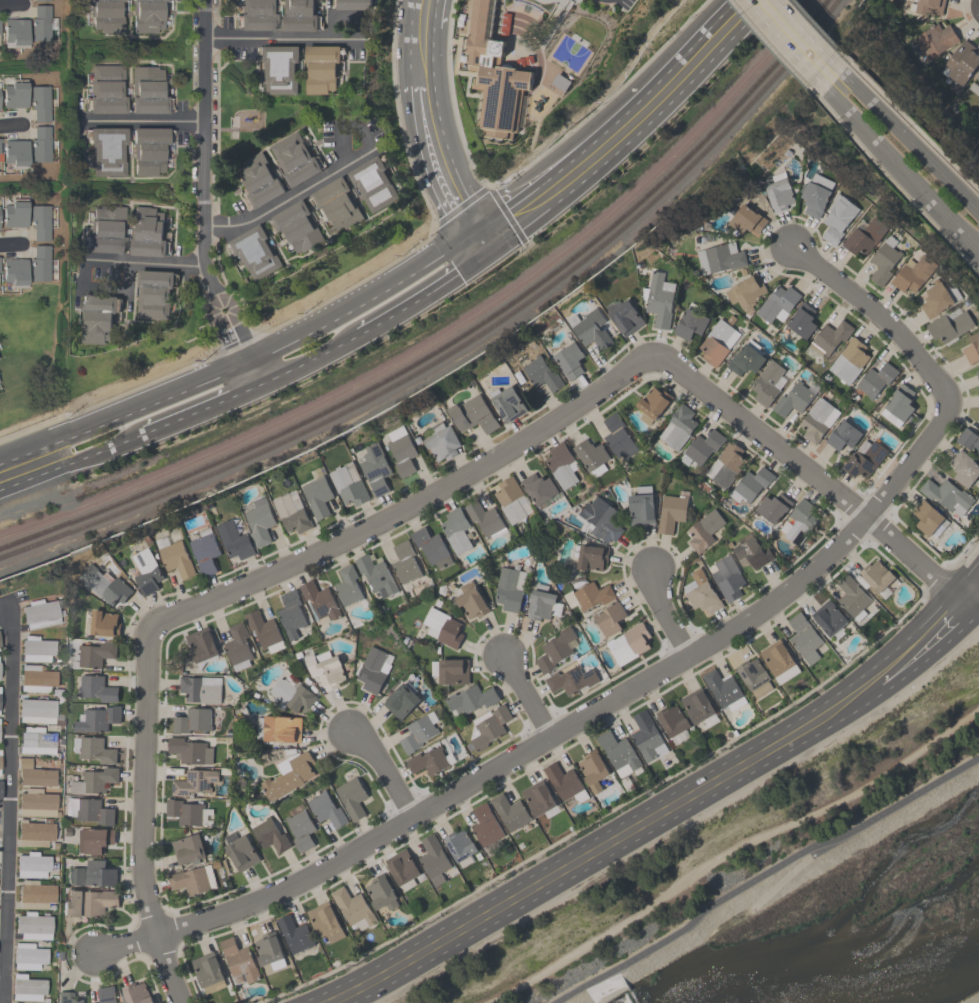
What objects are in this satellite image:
building: (41, 0)
road: (729, 2)
road: (10, 4)
building: (354, 4)
building: (924, 6)
road: (426, 11)
road: (752, 11)
building: (106, 15)
building: (146, 15)
building: (257, 15)
building: (298, 15)
building: (39, 23)
building: (514, 26)
building: (15, 32)
road: (318, 37)
road: (793, 37)
building: (934, 39)
road: (773, 48)
road: (424, 53)
building: (961, 64)
building: (281, 69)
building: (978, 69)
building: (322, 70)
building: (494, 71)
building: (977, 76)
building: (107, 90)
building: (148, 91)
building: (15, 94)
building: (39, 103)
road: (142, 120)
road: (10, 124)
road: (610, 125)
road: (637, 131)
road: (203, 132)
road: (907, 138)
building: (40, 144)
building: (148, 150)
building: (107, 151)
building: (14, 154)
road: (445, 156)
building: (294, 159)
road: (898, 166)
road: (326, 173)
building: (259, 178)
building: (374, 183)
road: (897, 186)
building: (778, 191)
building: (815, 194)
building: (338, 204)
building: (15, 215)
building: (836, 218)
building: (746, 220)
building: (40, 223)
building: (298, 227)
building: (106, 230)
building: (147, 232)
road: (456, 236)
building: (863, 236)
road: (482, 238)
road: (506, 241)
road: (10, 243)
building: (256, 251)
building: (719, 258)
building: (883, 260)
road: (145, 261)
building: (39, 264)
building: (15, 273)
building: (912, 273)
road: (105, 287)
road: (341, 289)
building: (746, 291)
building: (153, 293)
road: (423, 293)
building: (658, 299)
building: (935, 299)
building: (778, 303)
building: (622, 314)
road: (881, 316)
building: (97, 317)
building: (802, 320)
building: (690, 323)
road: (231, 325)
building: (948, 326)
building: (589, 328)
railway: (448, 334)
building: (830, 336)
railway: (456, 340)
building: (717, 342)
railway: (463, 345)
building: (971, 347)
road: (246, 359)
road: (308, 359)
building: (569, 360)
building: (744, 360)
building: (849, 360)
building: (542, 373)
building: (977, 375)
building: (875, 379)
building: (766, 382)
building: (795, 397)
building: (508, 403)
building: (652, 403)
building: (898, 404)
road: (204, 410)
building: (471, 414)
building: (978, 415)
building: (978, 418)
building: (817, 419)
building: (679, 425)
building: (842, 434)
building: (618, 436)
building: (968, 439)
building: (441, 441)
building: (702, 446)
building: (400, 450)
building: (590, 454)
road: (101, 455)
building: (864, 458)
building: (561, 464)
building: (726, 464)
road: (26, 467)
building: (964, 468)
building: (374, 469)
road: (818, 477)
building: (752, 482)
building: (348, 487)
building: (538, 487)
building: (946, 495)
building: (317, 496)
building: (511, 499)
road: (409, 503)
building: (641, 505)
building: (773, 507)
building: (670, 512)
building: (290, 514)
building: (926, 516)
building: (484, 518)
building: (600, 518)
building: (258, 520)
building: (800, 521)
building: (455, 529)
building: (703, 530)
building: (233, 539)
building: (431, 547)
building: (204, 551)
building: (752, 553)
building: (591, 557)
building: (175, 559)
building: (404, 561)
building: (145, 571)
building: (375, 574)
road: (966, 576)
building: (728, 577)
building: (877, 577)
building: (103, 585)
building: (347, 585)
building: (508, 589)
building: (701, 592)
building: (588, 595)
building: (851, 596)
building: (320, 599)
building: (470, 600)
building: (542, 603)
road: (977, 610)
building: (290, 613)
building: (40, 614)
road: (665, 614)
building: (828, 617)
building: (609, 618)
building: (103, 623)
building: (442, 627)
building: (264, 631)
building: (803, 637)
building: (628, 643)
building: (201, 644)
building: (237, 646)
building: (36, 649)
building: (554, 651)
building: (95, 653)
road: (928, 654)
building: (778, 660)
building: (324, 668)
building: (373, 670)
building: (453, 671)
building: (754, 676)
building: (36, 679)
building: (571, 679)
building: (96, 688)
building: (723, 689)
building: (198, 690)
building: (291, 694)
road: (527, 698)
building: (470, 699)
building: (400, 701)
building: (698, 706)
building: (36, 710)
building: (97, 718)
road: (587, 718)
building: (191, 720)
building: (673, 723)
building: (489, 726)
building: (279, 728)
building: (417, 733)
building: (646, 735)
building: (35, 741)
building: (96, 750)
building: (190, 750)
building: (619, 753)
building: (429, 760)
building: (0, 763)
road: (382, 768)
building: (592, 770)
building: (33, 774)
building: (288, 774)
building: (92, 780)
building: (193, 782)
building: (564, 782)
building: (351, 797)
building: (538, 797)
building: (35, 804)
road: (8, 805)
building: (326, 809)
building: (89, 810)
building: (184, 811)
building: (509, 811)
road: (640, 813)
road: (4, 819)
road: (140, 819)
building: (485, 825)
building: (301, 829)
building: (34, 833)
building: (269, 835)
building: (93, 839)
building: (459, 844)
building: (187, 849)
road: (616, 850)
road: (730, 851)
building: (242, 852)
building: (433, 859)
building: (31, 865)
building: (402, 866)
building: (92, 874)
road: (766, 875)
building: (192, 879)
building: (381, 892)
building: (34, 895)
building: (88, 902)
building: (352, 906)
building: (325, 921)
building: (32, 926)
building: (294, 933)
road: (125, 942)
river: (875, 944)
building: (269, 950)
building: (27, 956)
building: (238, 959)
building: (208, 972)
road: (1, 985)
building: (26, 988)
building: (136, 993)
building: (106, 994)
building: (68, 997)

